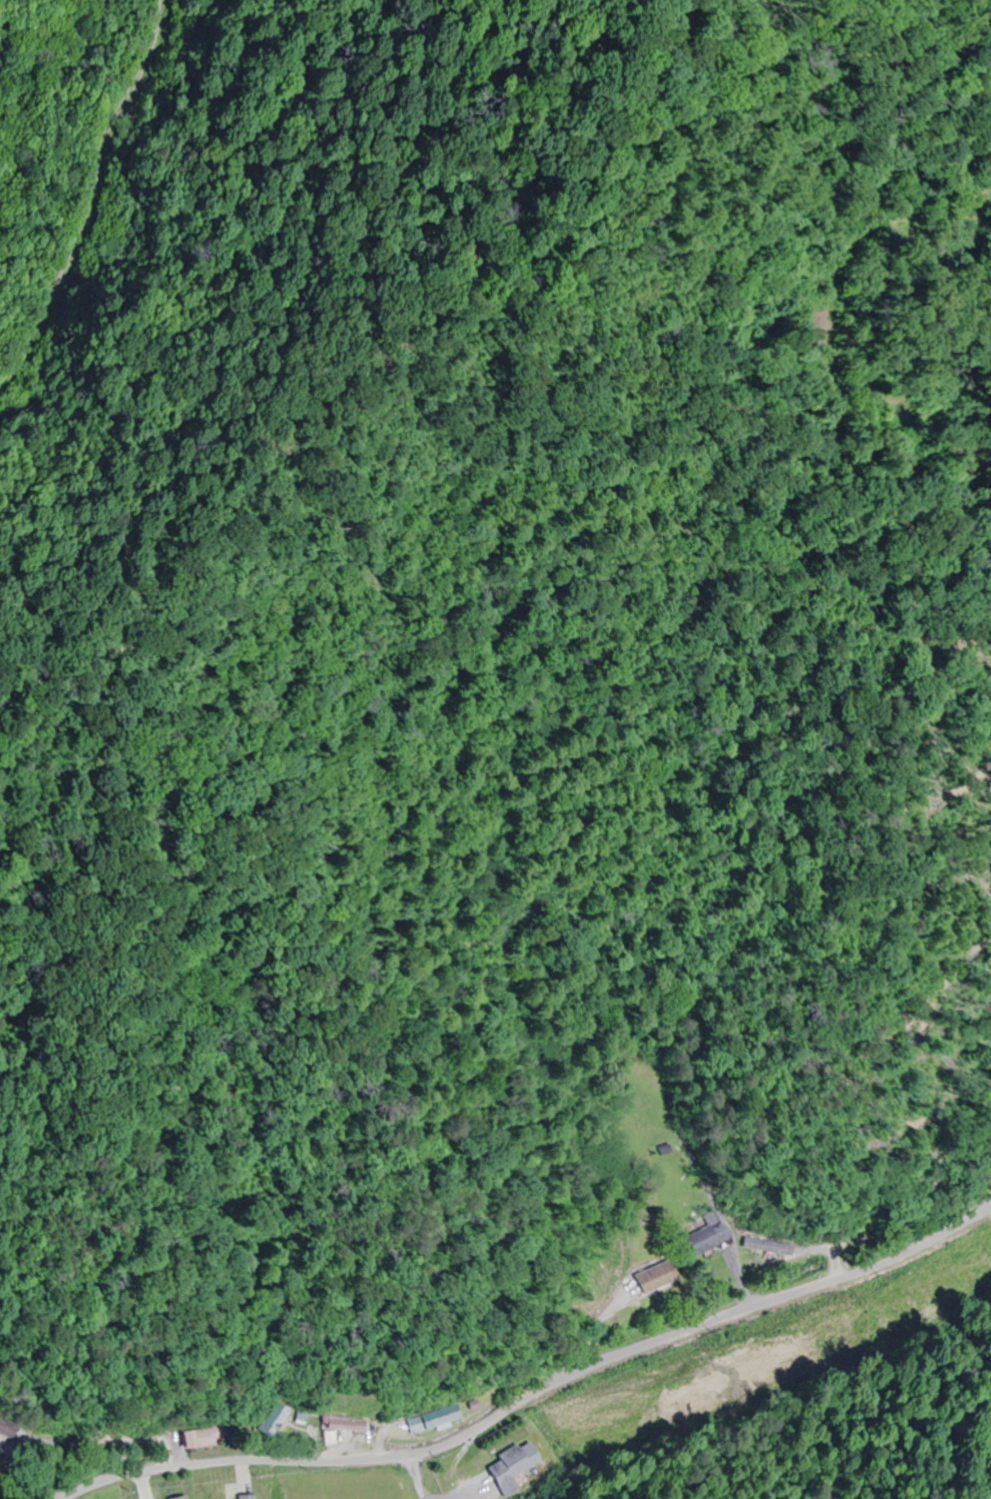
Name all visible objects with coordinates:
building: (705, 1234)
building: (654, 1277)
road: (532, 1379)
building: (277, 1419)
building: (5, 1427)
building: (343, 1427)
building: (207, 1438)
building: (513, 1467)
building: (246, 1497)
building: (184, 1498)

